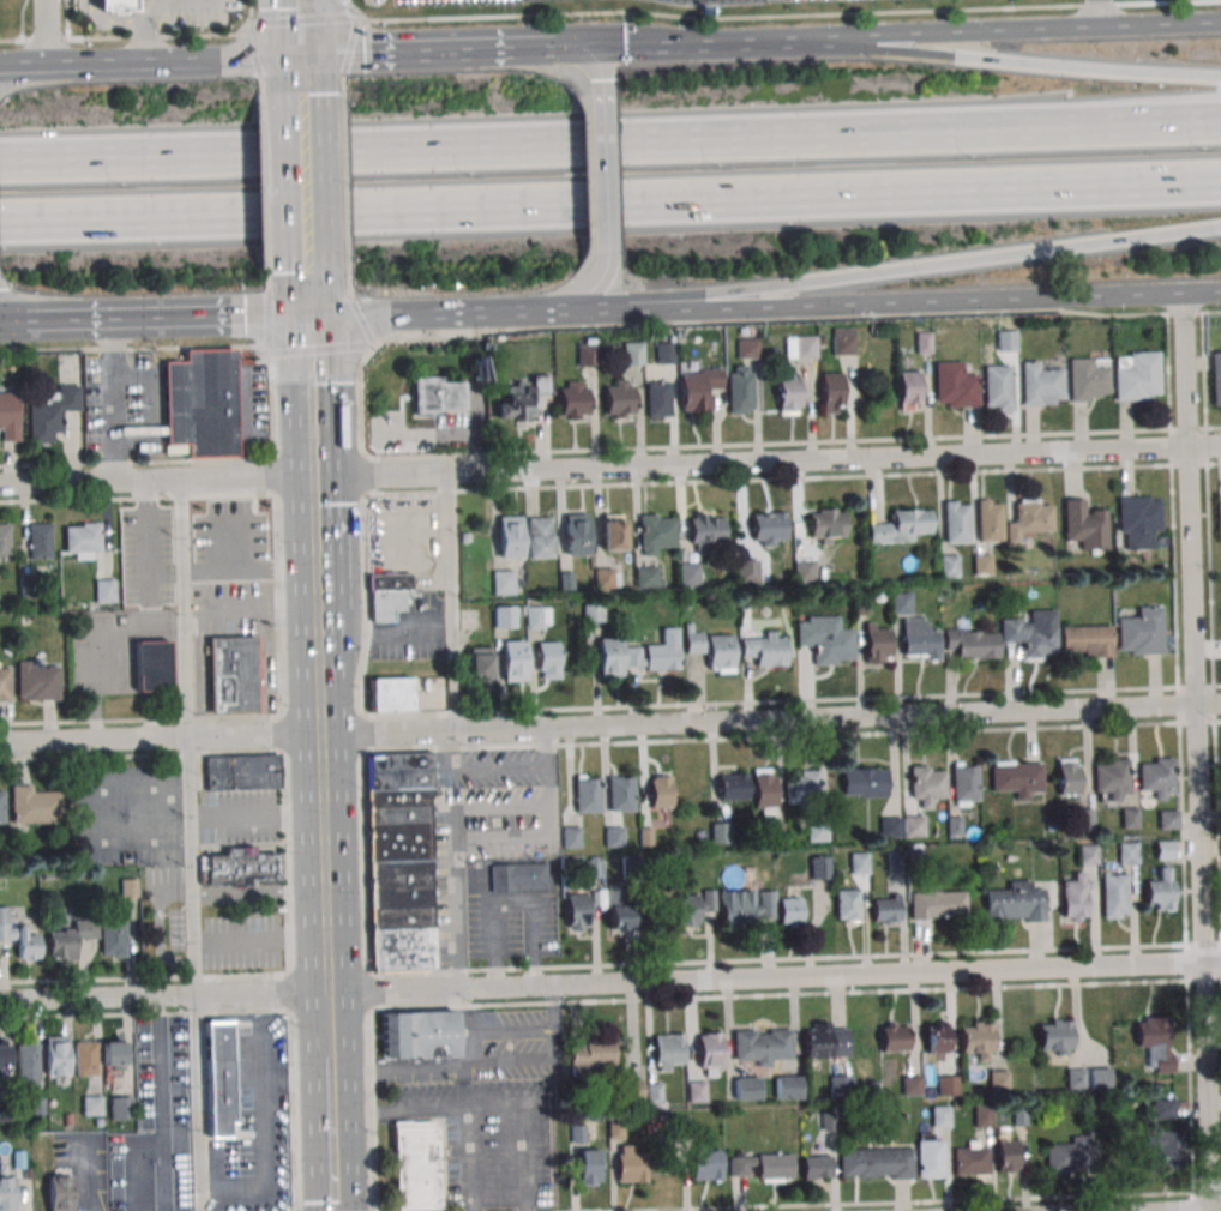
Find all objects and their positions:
road: (230, 1)
road: (164, 2)
road: (198, 4)
building: (116, 6)
road: (249, 12)
road: (1105, 14)
road: (777, 16)
road: (67, 19)
road: (121, 19)
road: (22, 20)
road: (297, 29)
road: (1025, 32)
road: (42, 34)
road: (127, 38)
road: (143, 41)
road: (349, 46)
road: (698, 46)
traffic signals: (565, 49)
road: (431, 53)
road: (252, 55)
traffic signals: (299, 58)
road: (576, 58)
road: (1025, 59)
road: (170, 62)
road: (20, 68)
road: (299, 70)
road: (7, 77)
road: (343, 97)
road: (263, 100)
road: (601, 102)
road: (610, 140)
road: (344, 149)
road: (265, 151)
road: (302, 191)
road: (610, 203)
road: (347, 212)
road: (266, 215)
road: (603, 222)
road: (1010, 254)
road: (267, 269)
road: (348, 271)
road: (1202, 291)
road: (747, 293)
road: (938, 301)
road: (570, 303)
road: (306, 307)
road: (626, 307)
road: (506, 312)
road: (380, 313)
traffic signals: (307, 314)
road: (170, 318)
road: (10, 319)
road: (269, 319)
road: (796, 320)
road: (361, 321)
road: (17, 324)
traffic signals: (19, 324)
building: (1006, 339)
building: (822, 341)
building: (842, 341)
building: (922, 342)
road: (321, 348)
building: (746, 348)
road: (133, 349)
building: (800, 349)
building: (632, 353)
building: (664, 353)
building: (585, 354)
building: (1137, 375)
building: (1216, 378)
building: (1088, 379)
building: (954, 385)
building: (1041, 385)
building: (697, 387)
building: (998, 387)
building: (740, 388)
building: (908, 388)
building: (831, 392)
building: (788, 394)
road: (308, 396)
building: (437, 396)
building: (519, 398)
building: (619, 398)
building: (658, 398)
building: (572, 402)
building: (203, 405)
building: (50, 414)
building: (8, 416)
road: (790, 444)
road: (137, 463)
road: (610, 469)
road: (790, 478)
road: (137, 498)
building: (1219, 516)
building: (1028, 519)
building: (988, 520)
building: (955, 522)
building: (1138, 522)
building: (825, 524)
building: (1084, 524)
building: (900, 525)
building: (768, 529)
building: (612, 532)
building: (705, 532)
building: (576, 535)
building: (655, 535)
building: (510, 536)
building: (540, 536)
building: (465, 538)
building: (40, 541)
building: (83, 541)
building: (4, 542)
road: (312, 550)
building: (981, 564)
building: (949, 565)
building: (805, 568)
building: (747, 570)
road: (247, 573)
building: (688, 574)
building: (606, 576)
building: (646, 577)
building: (503, 580)
building: (566, 582)
building: (28, 588)
building: (104, 592)
building: (386, 594)
road: (449, 601)
building: (900, 602)
building: (861, 605)
road: (252, 609)
building: (593, 611)
building: (504, 616)
building: (537, 616)
building: (24, 620)
road: (1211, 628)
building: (1141, 632)
building: (1031, 633)
building: (825, 639)
building: (918, 639)
building: (1085, 640)
building: (876, 641)
building: (969, 643)
building: (764, 649)
building: (711, 650)
building: (654, 652)
building: (609, 657)
building: (515, 659)
building: (547, 659)
building: (479, 661)
building: (152, 667)
building: (234, 676)
road: (203, 680)
building: (36, 682)
building: (5, 686)
building: (391, 694)
road: (790, 700)
road: (140, 721)
road: (610, 722)
road: (790, 737)
road: (447, 749)
road: (1192, 752)
road: (1179, 753)
road: (140, 757)
road: (500, 767)
building: (241, 773)
road: (360, 776)
building: (1067, 776)
building: (1017, 777)
building: (1111, 777)
building: (1157, 777)
road: (282, 778)
building: (864, 782)
building: (964, 783)
building: (926, 784)
building: (732, 787)
building: (660, 790)
building: (802, 790)
building: (763, 791)
building: (588, 793)
building: (621, 793)
road: (541, 806)
building: (34, 807)
building: (1, 808)
road: (80, 817)
building: (1129, 817)
building: (1167, 819)
building: (1084, 820)
building: (914, 826)
building: (954, 826)
building: (1051, 826)
building: (891, 827)
building: (818, 831)
building: (775, 833)
building: (721, 835)
building: (613, 836)
building: (571, 837)
building: (646, 838)
road: (190, 847)
building: (1163, 849)
building: (1220, 849)
building: (1126, 852)
building: (1088, 854)
building: (401, 860)
building: (896, 861)
building: (915, 861)
building: (859, 862)
road: (321, 866)
building: (591, 867)
building: (819, 867)
building: (236, 868)
building: (631, 869)
building: (47, 875)
building: (517, 875)
building: (1159, 890)
building: (128, 894)
building: (1075, 896)
building: (1113, 896)
road: (511, 902)
building: (1015, 902)
building: (847, 904)
building: (937, 904)
building: (745, 905)
building: (693, 908)
building: (885, 908)
building: (619, 910)
building: (789, 910)
building: (578, 911)
building: (18, 938)
building: (114, 939)
building: (71, 940)
road: (794, 959)
road: (144, 978)
road: (609, 983)
road: (794, 994)
road: (463, 1008)
road: (145, 1014)
building: (419, 1035)
building: (894, 1036)
building: (1054, 1036)
building: (936, 1038)
building: (824, 1040)
building: (976, 1040)
building: (1155, 1041)
building: (763, 1048)
building: (668, 1052)
building: (708, 1053)
building: (590, 1054)
building: (114, 1056)
building: (143, 1056)
building: (56, 1058)
building: (5, 1060)
building: (85, 1060)
building: (28, 1066)
building: (998, 1079)
building: (1075, 1079)
building: (1100, 1079)
building: (218, 1080)
building: (840, 1084)
building: (910, 1084)
building: (946, 1084)
building: (745, 1088)
building: (787, 1088)
building: (871, 1089)
building: (633, 1090)
building: (697, 1090)
building: (654, 1093)
building: (615, 1098)
building: (37, 1105)
building: (92, 1105)
building: (160, 1108)
building: (1163, 1108)
building: (121, 1109)
road: (422, 1109)
road: (519, 1110)
building: (846, 1111)
building: (7, 1114)
building: (981, 1115)
building: (940, 1116)
building: (1018, 1116)
building: (67, 1120)
building: (829, 1122)
building: (614, 1129)
building: (680, 1131)
building: (578, 1135)
building: (1165, 1145)
building: (235, 1147)
building: (928, 1155)
building: (1006, 1155)
building: (1071, 1157)
building: (969, 1158)
building: (18, 1161)
road: (330, 1161)
road: (524, 1162)
building: (704, 1163)
building: (876, 1163)
building: (416, 1165)
building: (630, 1165)
building: (760, 1165)
building: (276, 1167)
building: (588, 1167)
building: (816, 1167)
building: (118, 1189)
road: (1207, 1193)
building: (60, 1194)
building: (7, 1195)
road: (918, 1201)
road: (1193, 1201)
road: (1207, 1210)

